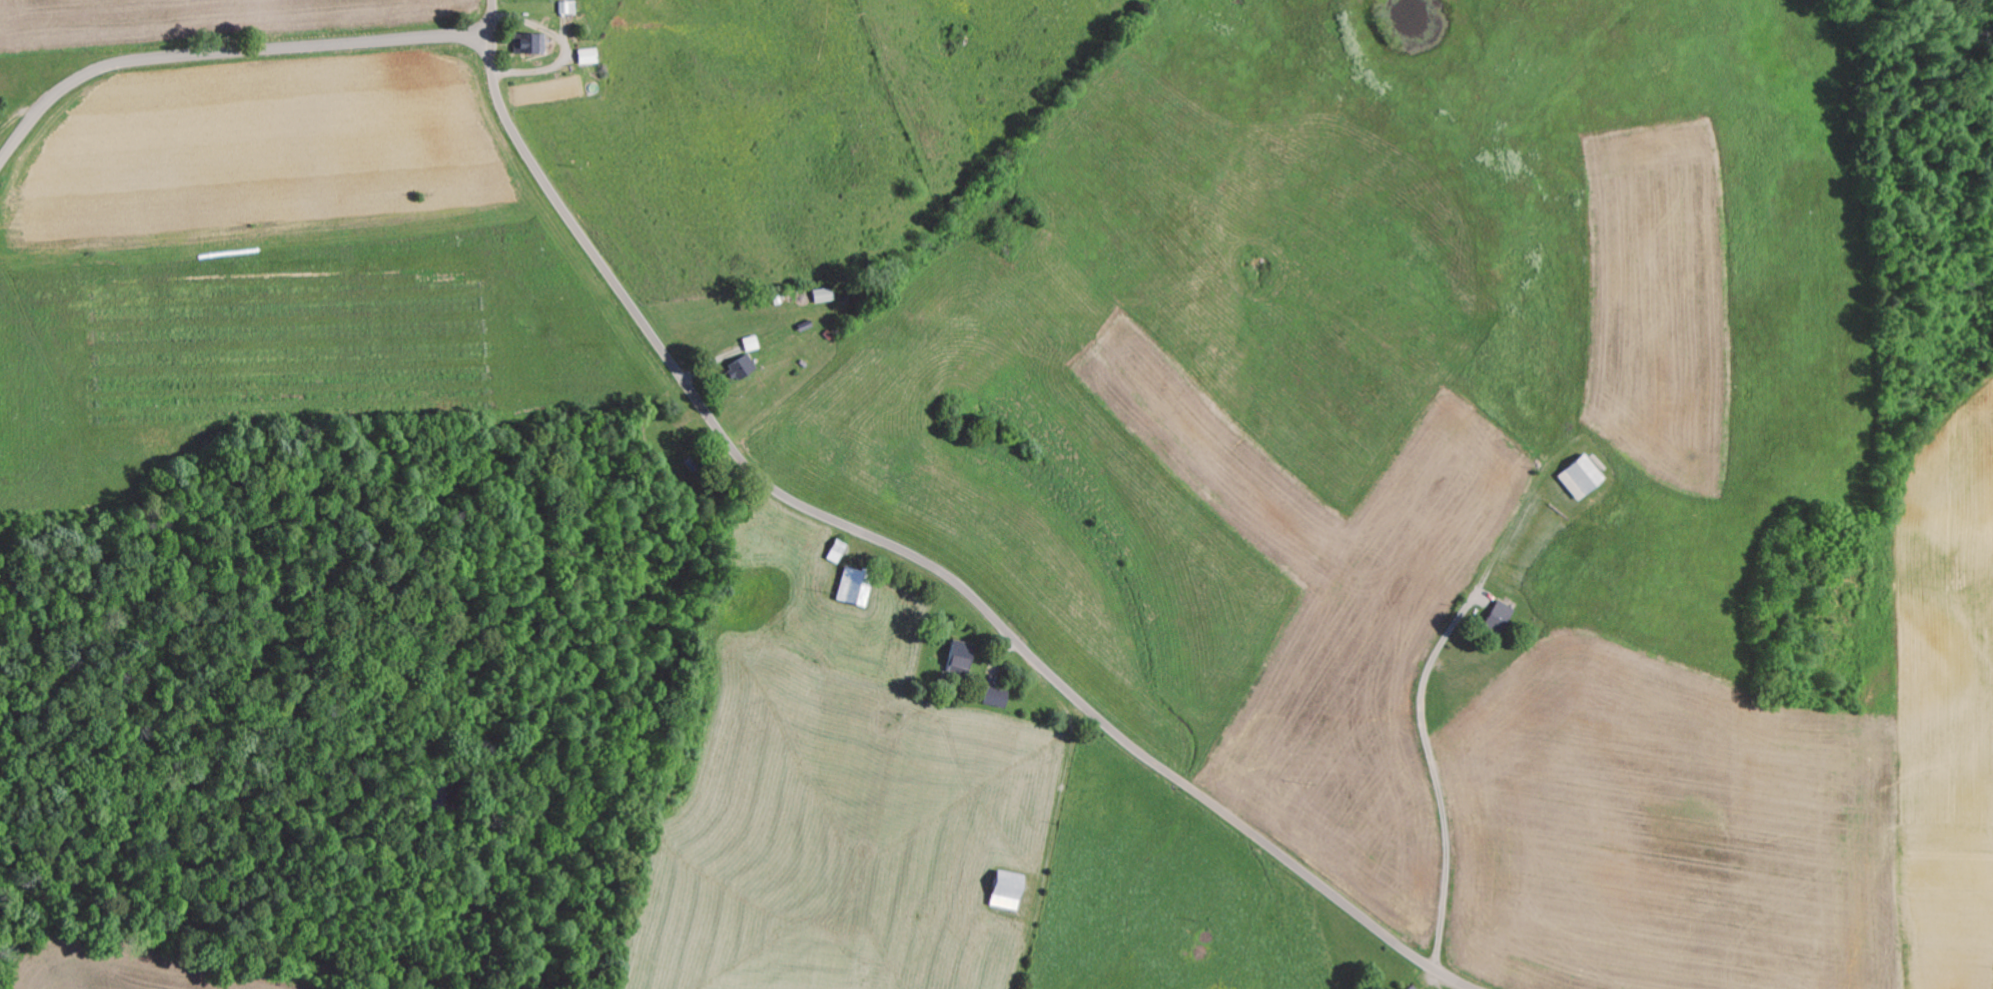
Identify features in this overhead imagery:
building: (569, 6)
building: (531, 41)
road: (224, 49)
building: (589, 54)
building: (825, 293)
building: (752, 342)
building: (742, 366)
building: (1583, 476)
road: (903, 550)
road: (1472, 584)
building: (856, 586)
building: (1503, 616)
building: (962, 654)
building: (997, 696)
building: (1009, 889)
building: (1413, 987)

